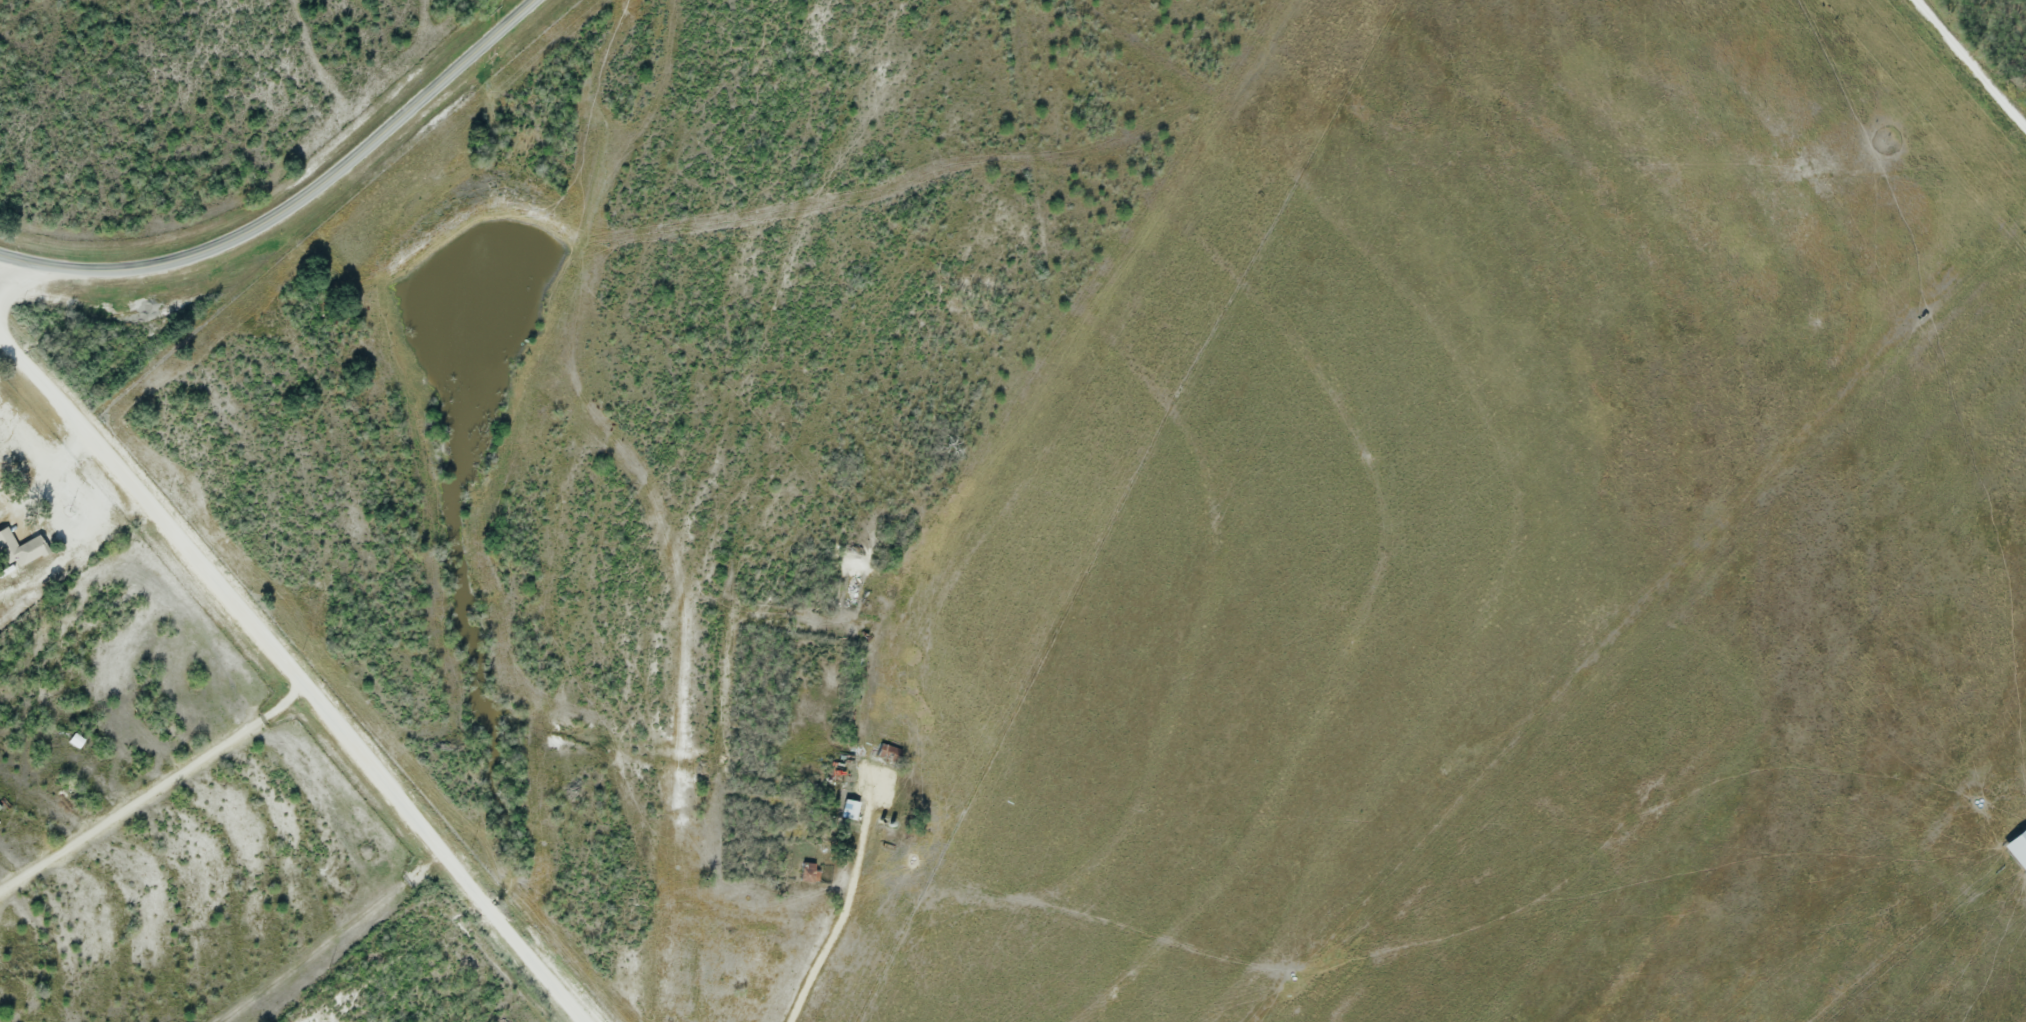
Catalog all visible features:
road: (1965, 73)
road: (292, 199)
building: (19, 551)
road: (296, 673)
building: (77, 743)
building: (845, 773)
road: (152, 786)
building: (848, 812)
road: (845, 908)

